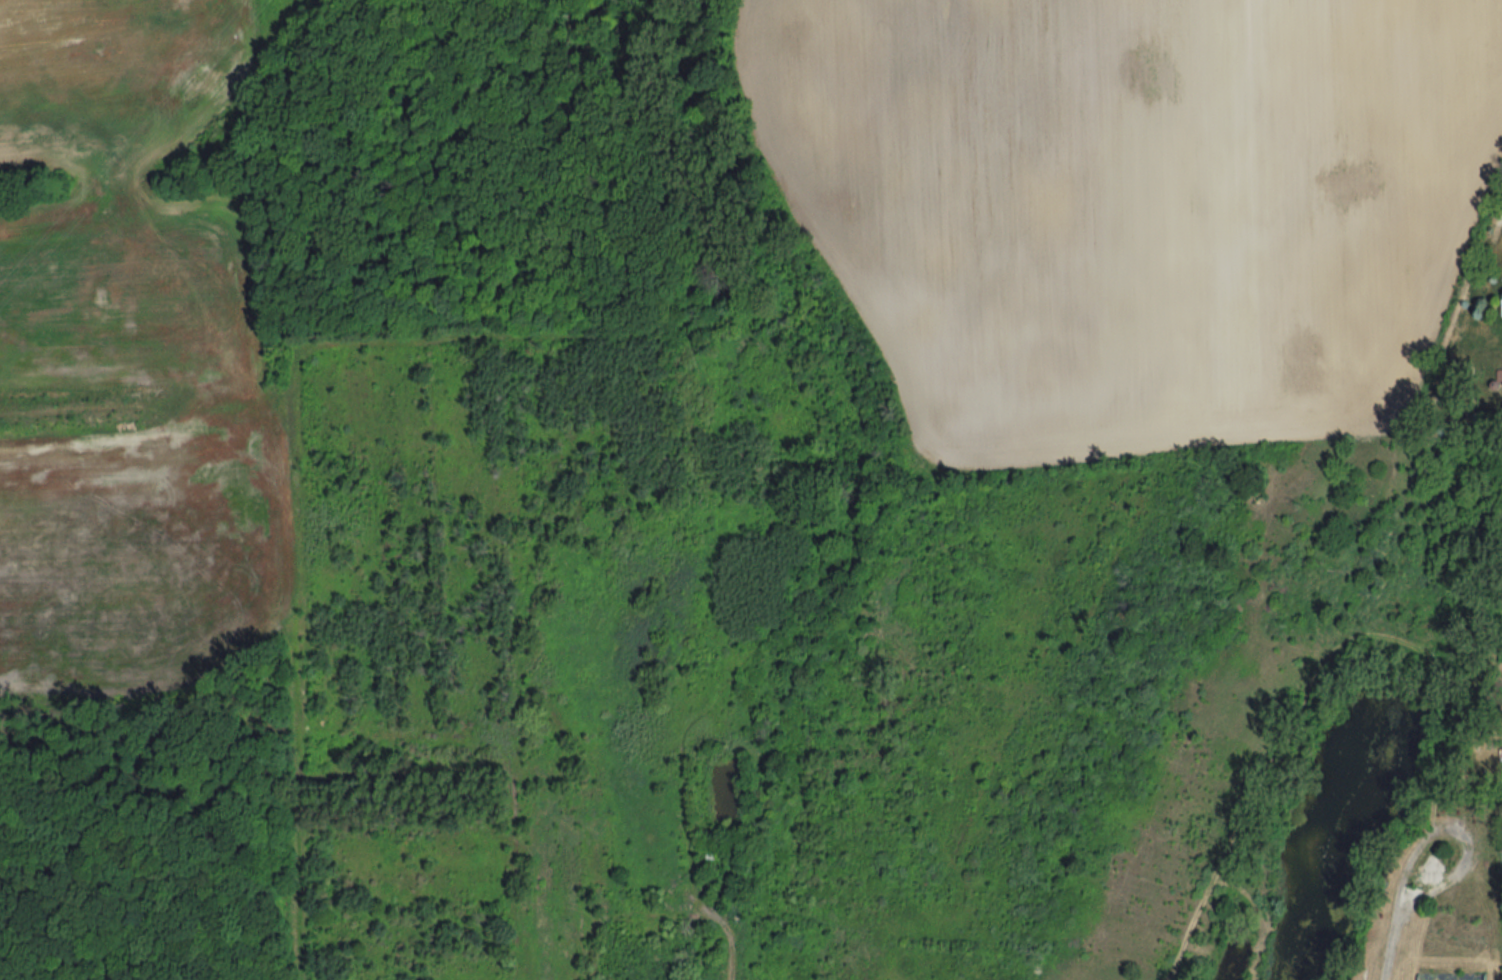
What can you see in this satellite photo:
crop: (32, 185)
crop: (32, 185)
crop: (1133, 206)
crop: (129, 372)
building: (1500, 377)
road: (1388, 943)
building: (1449, 976)

